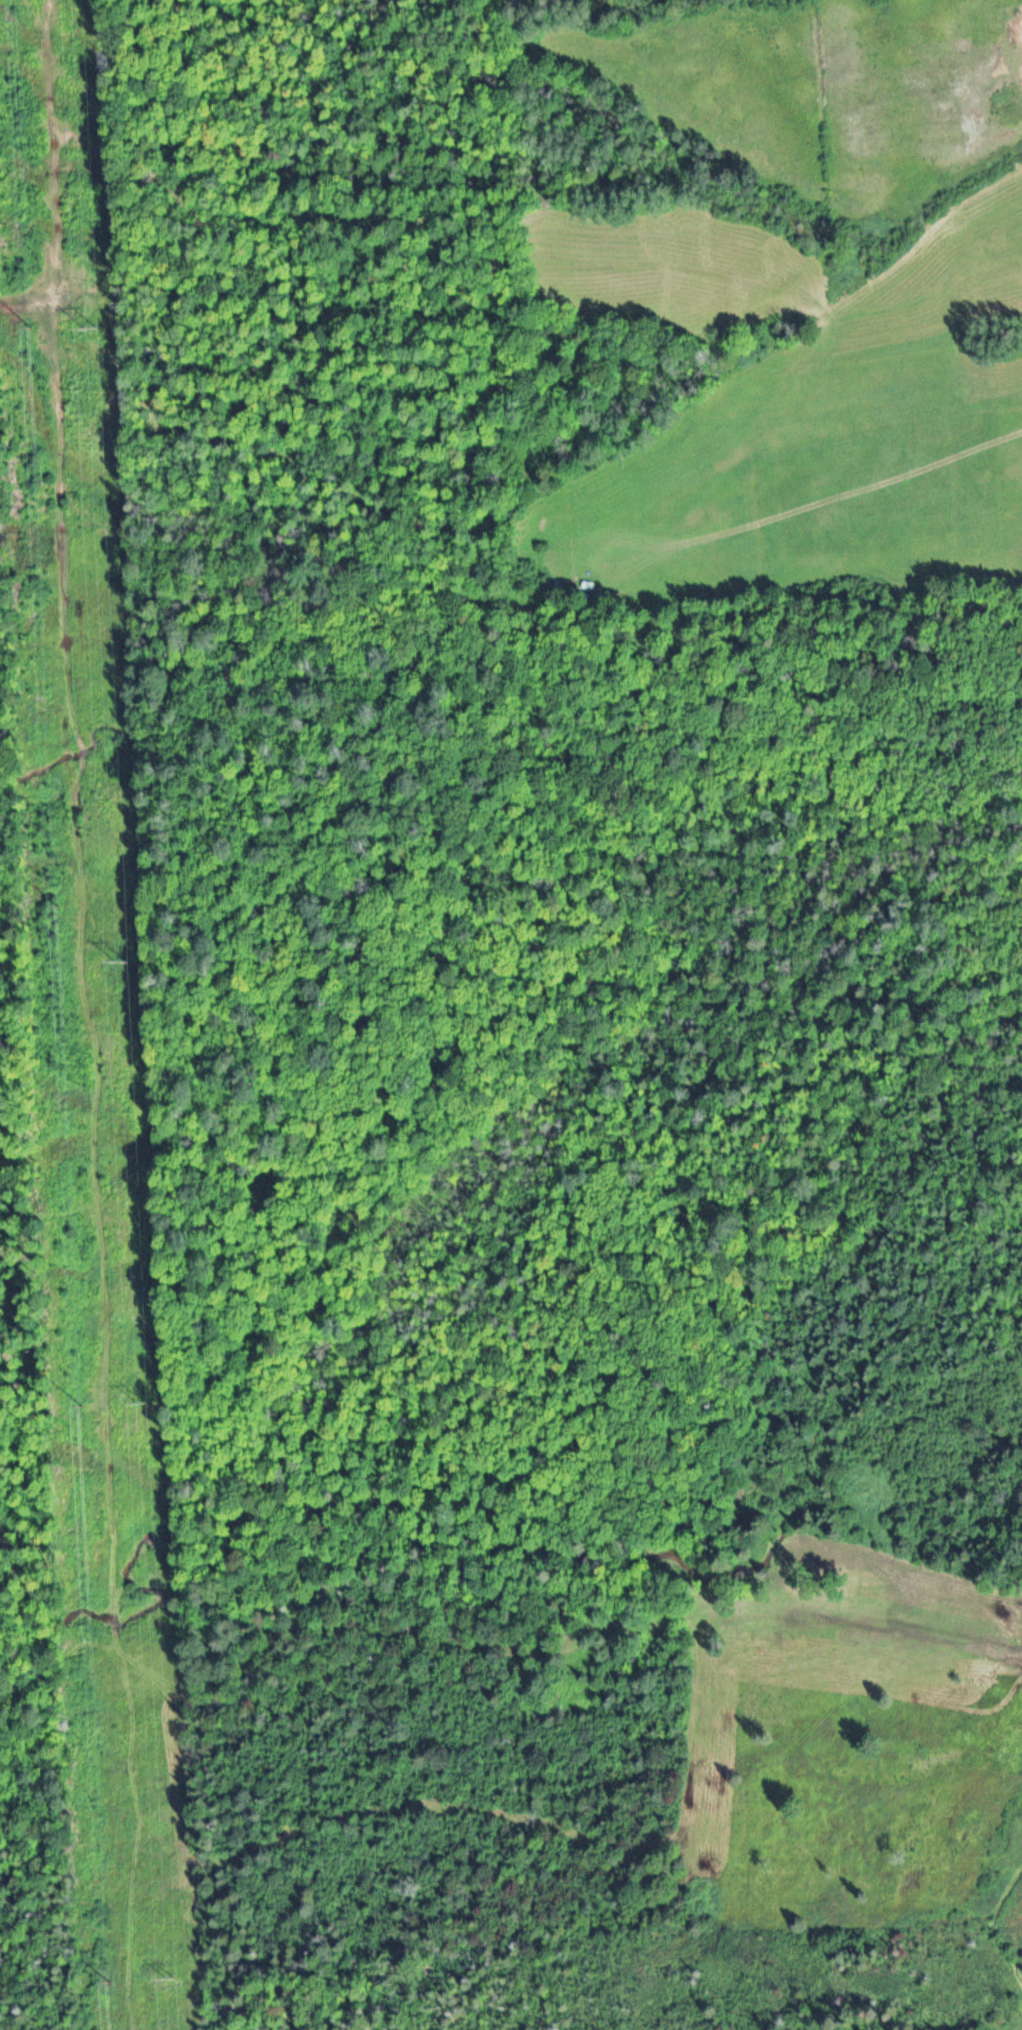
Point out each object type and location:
river: (866, 2000)

